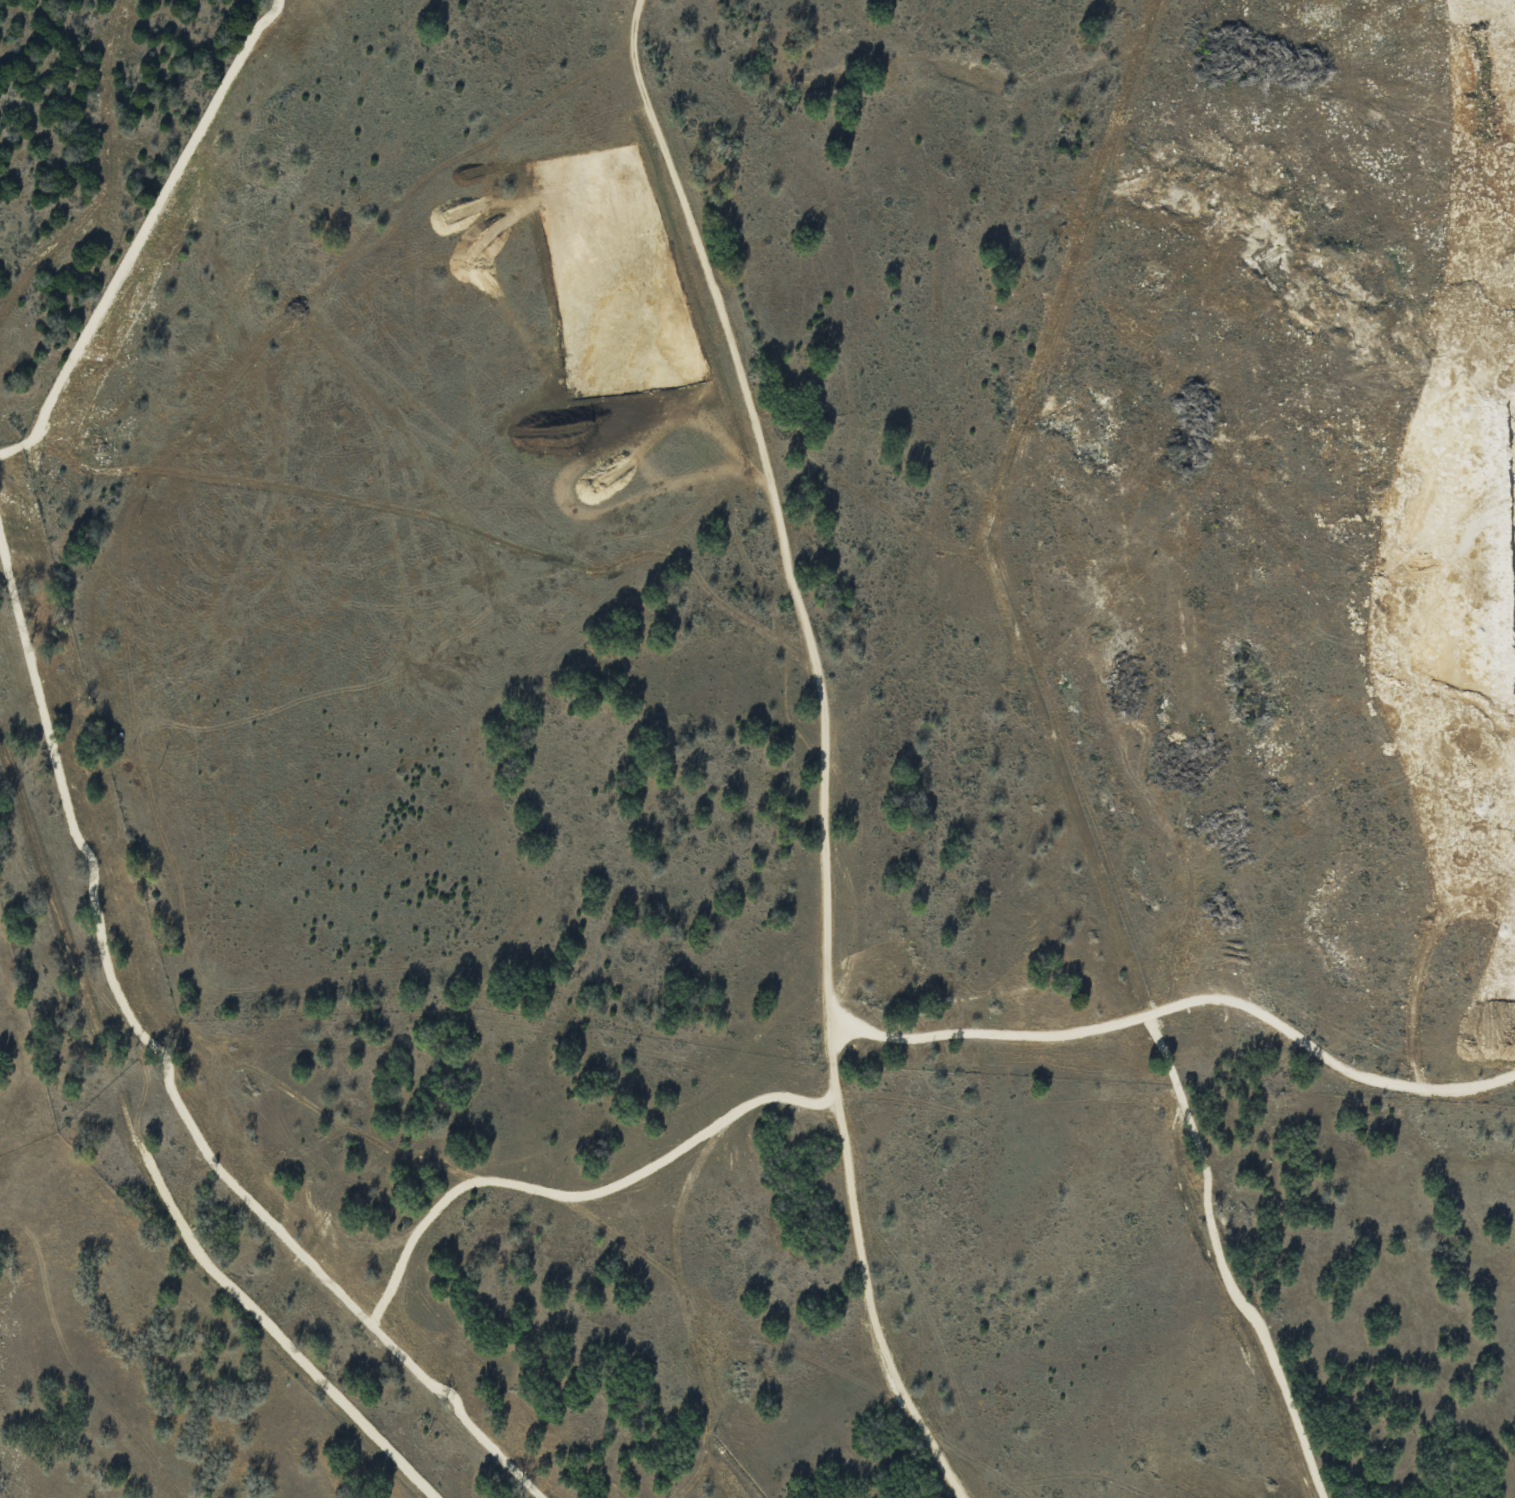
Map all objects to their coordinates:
road: (823, 747)

